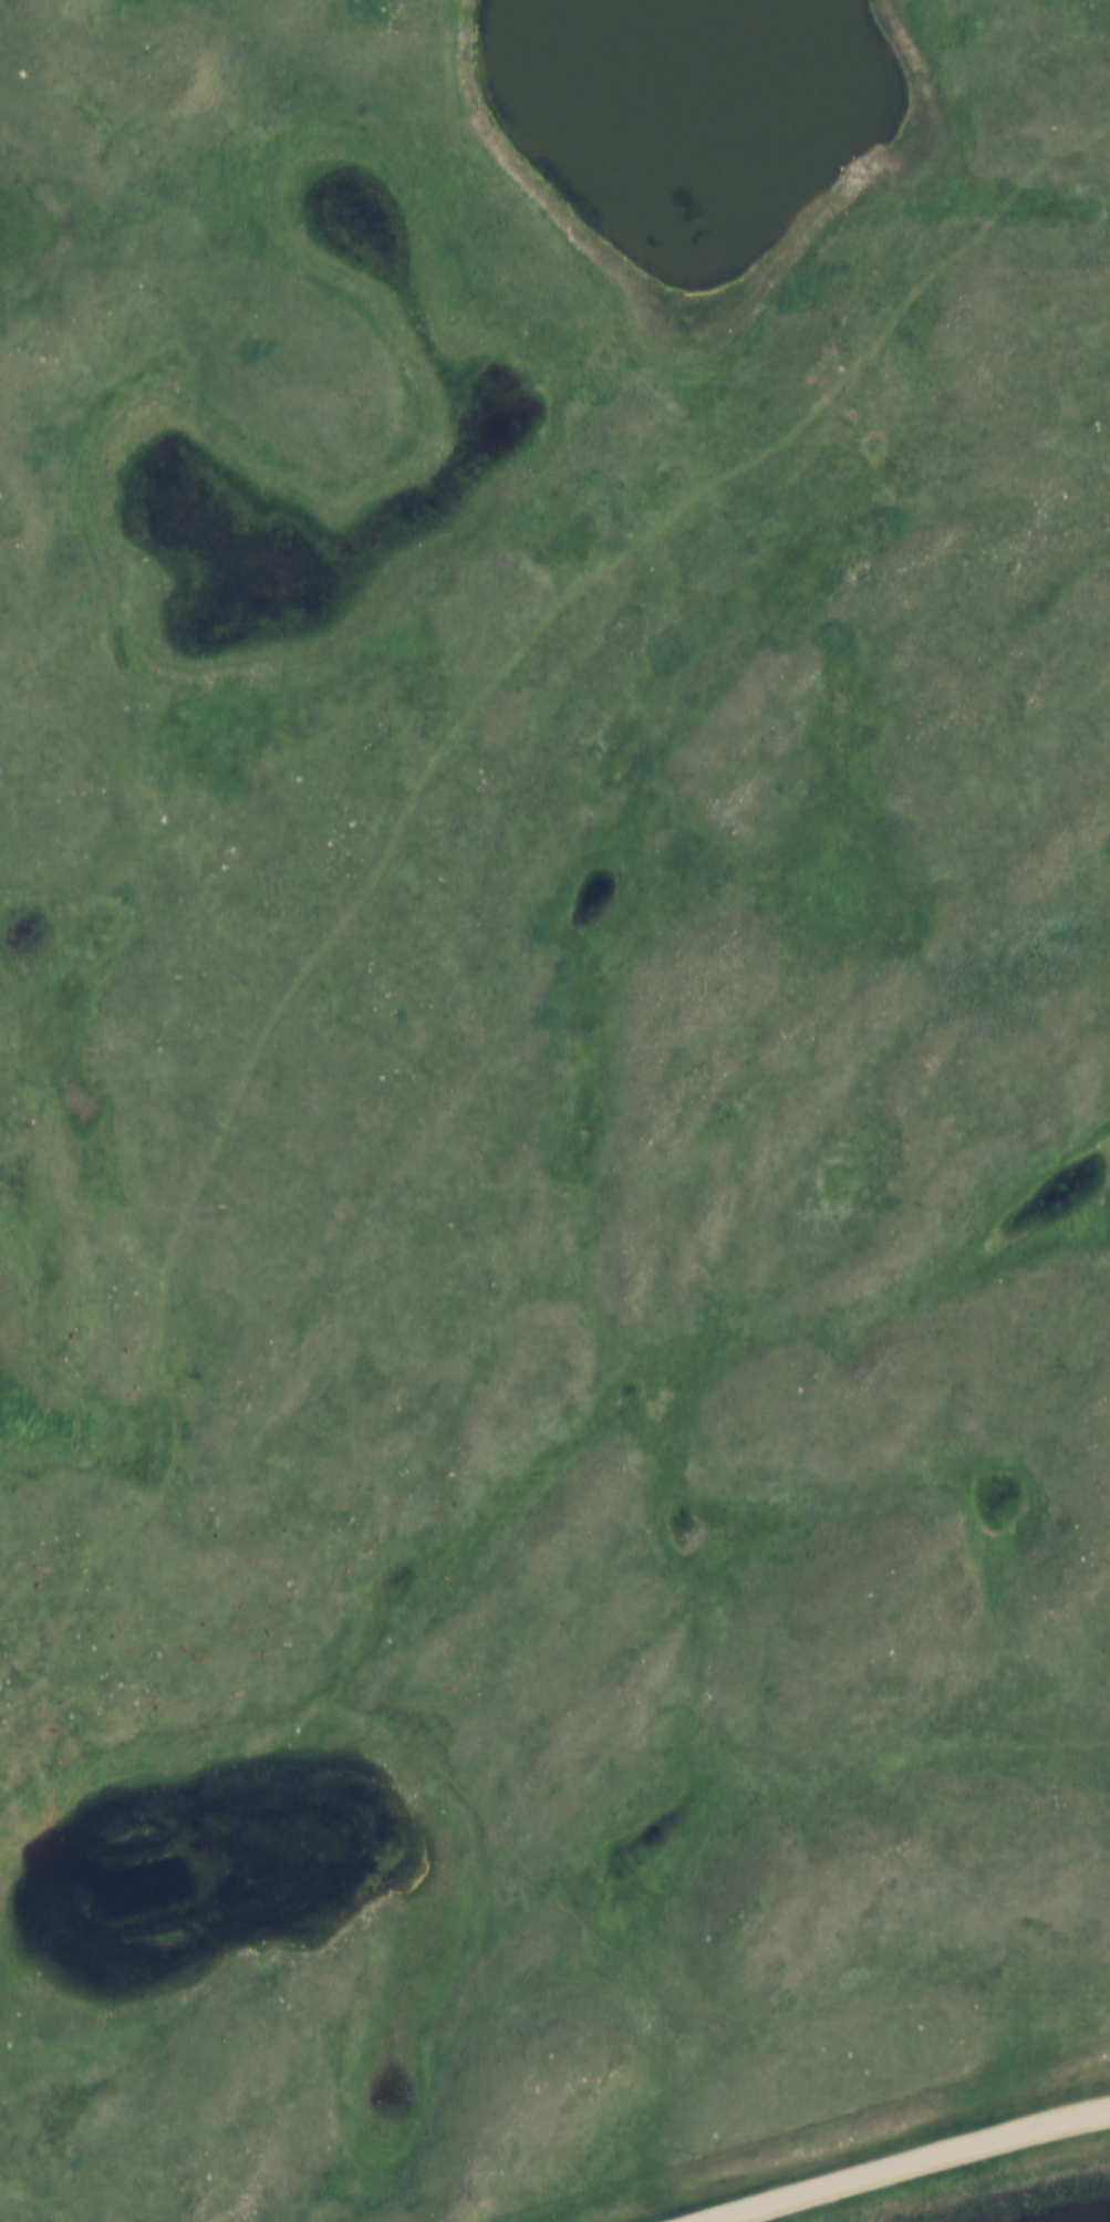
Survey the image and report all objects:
road: (913, 2166)

